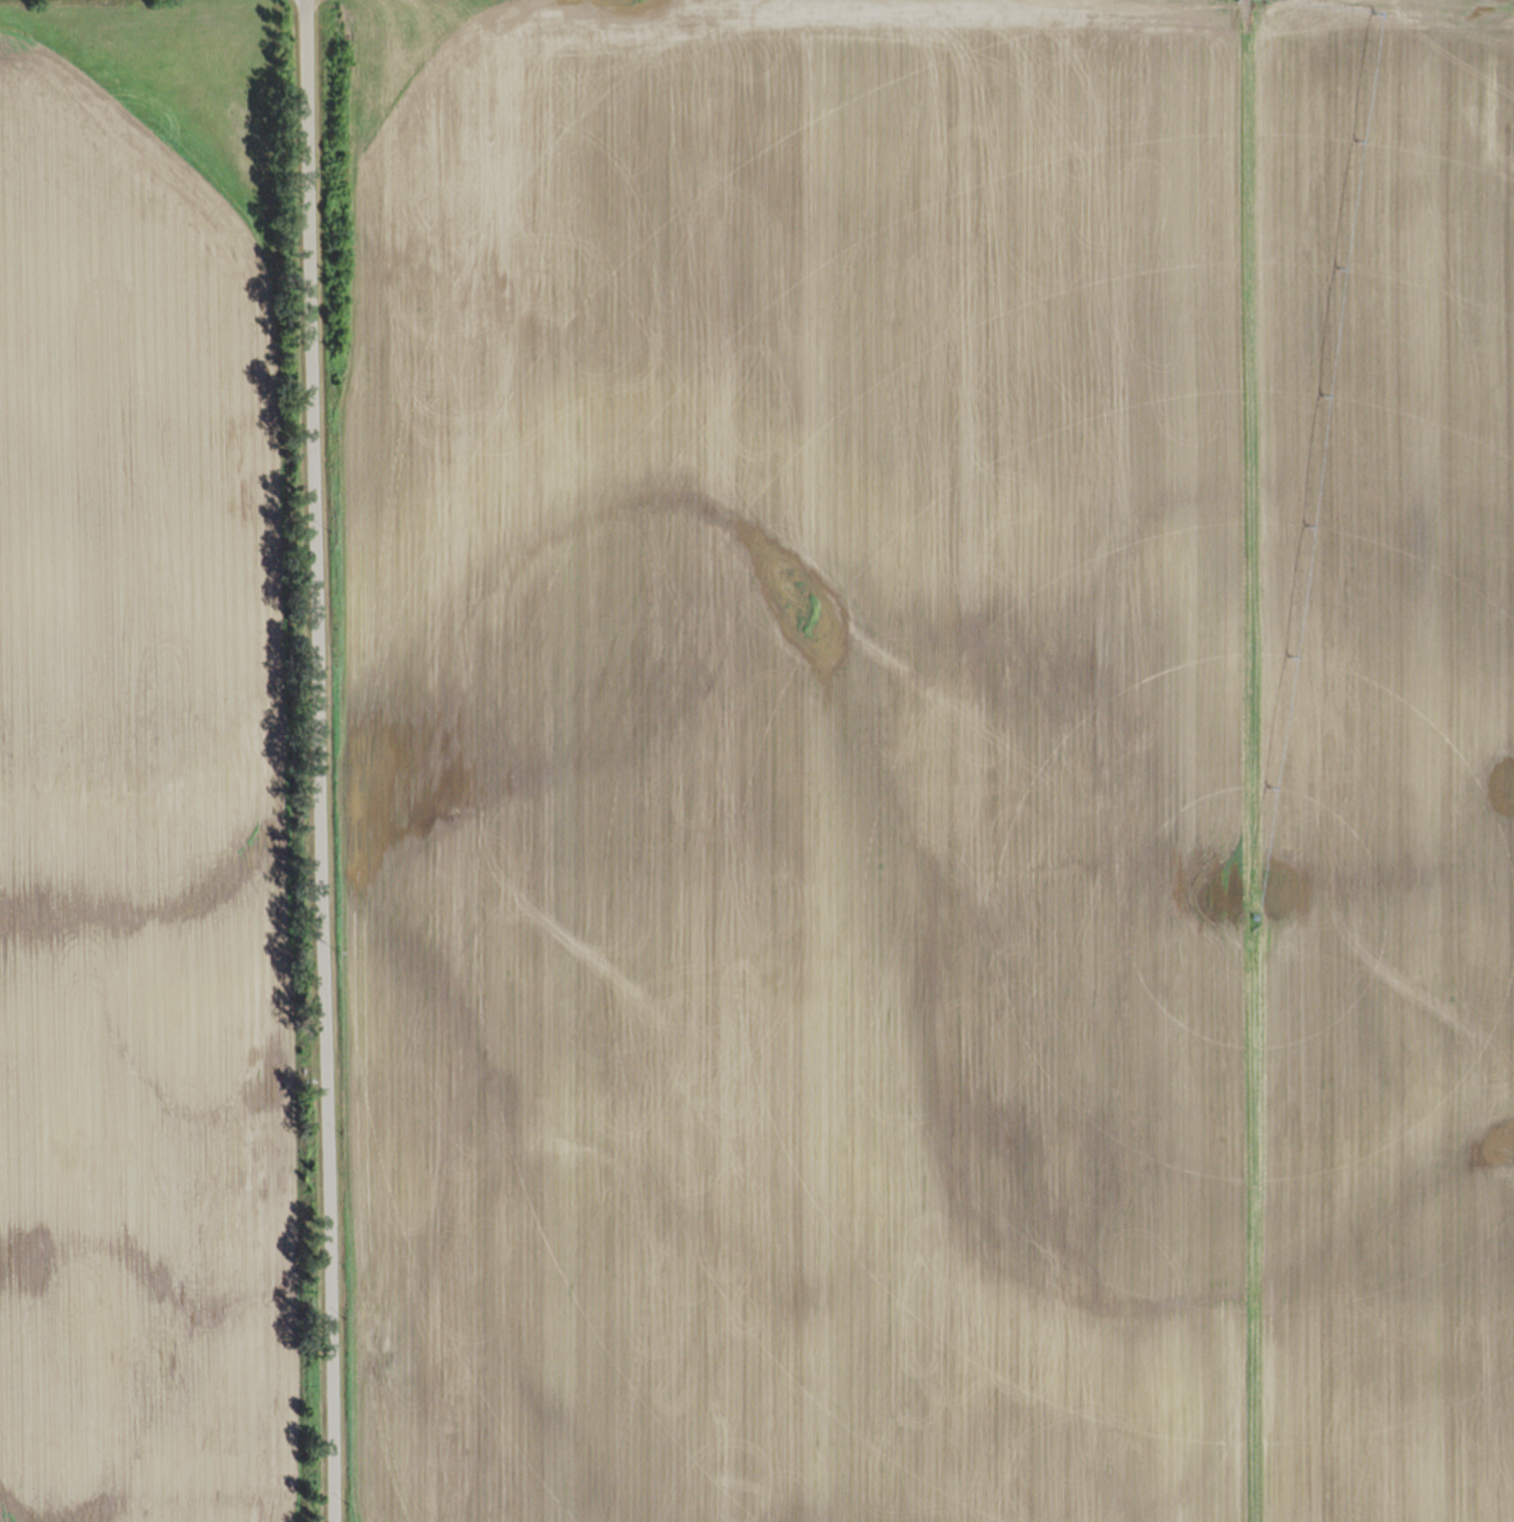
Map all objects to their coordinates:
road: (331, 760)

